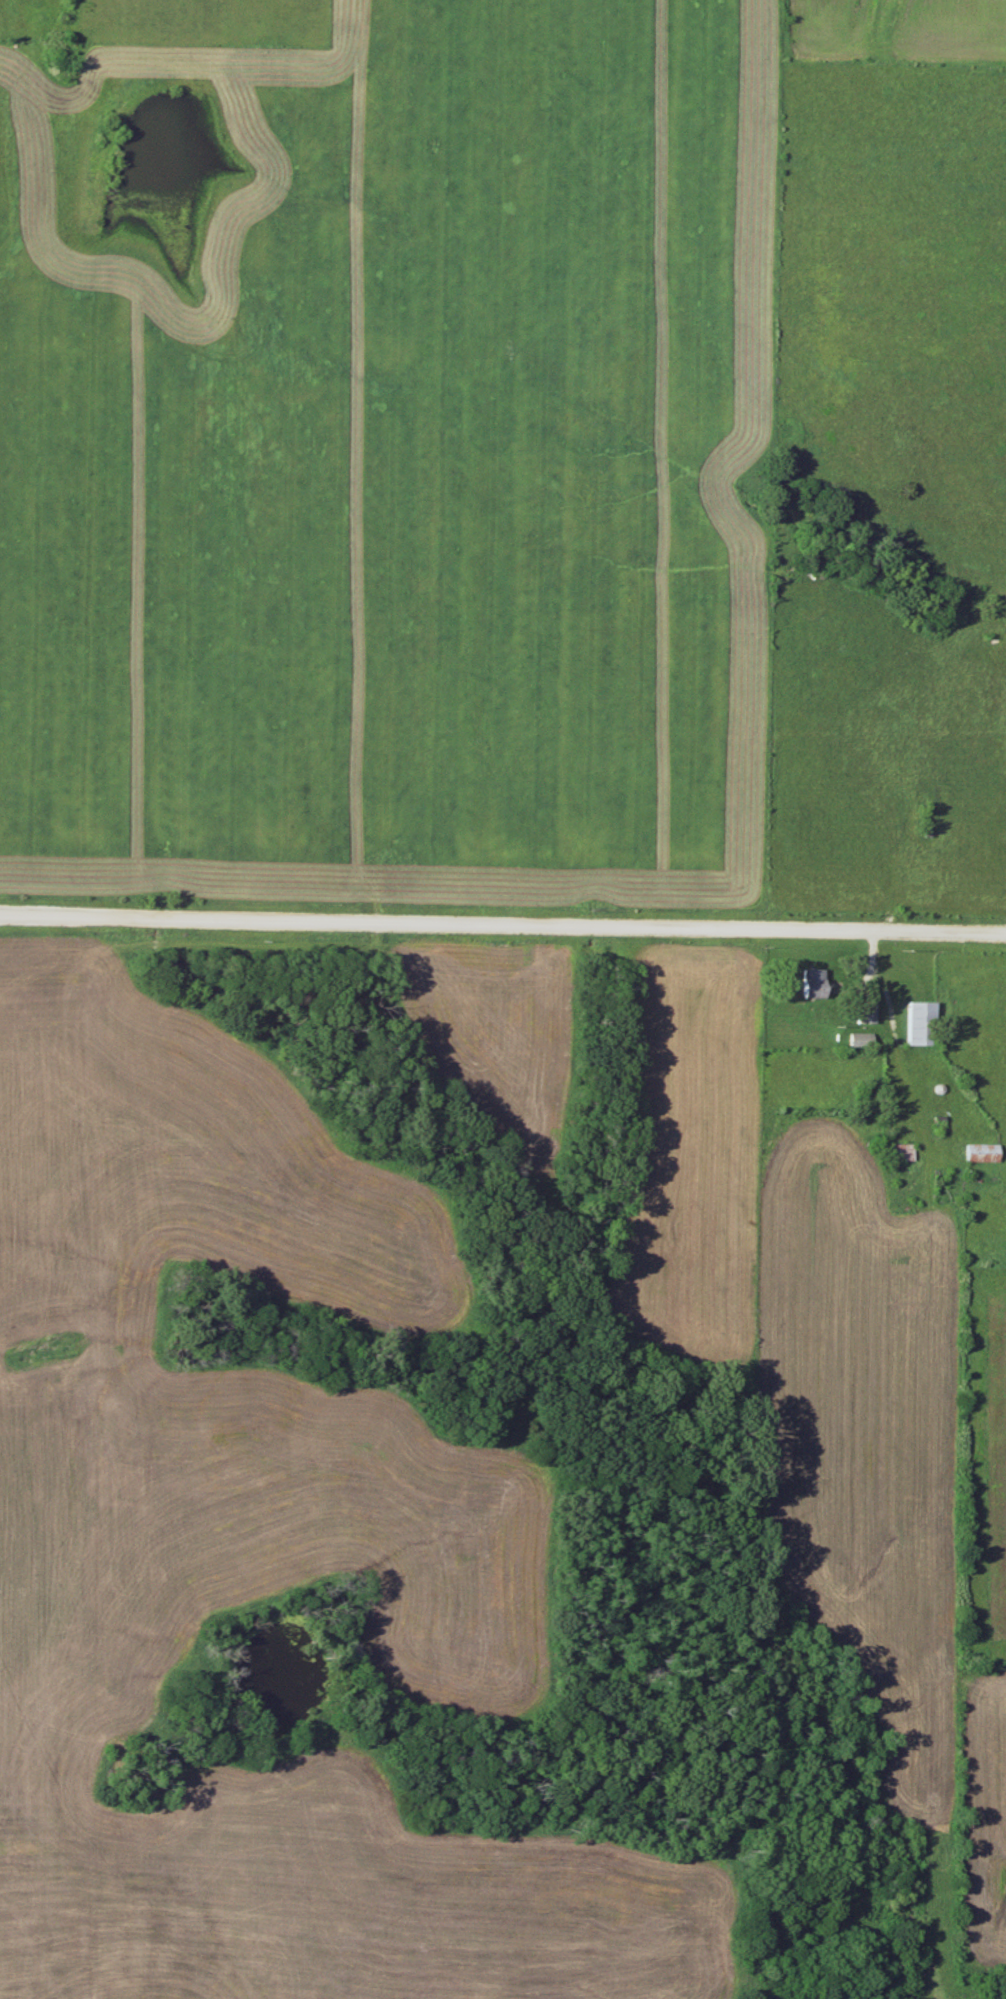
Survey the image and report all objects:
road: (503, 927)
building: (811, 983)
building: (864, 1012)
building: (920, 1023)
building: (860, 1041)
building: (901, 1152)
building: (982, 1153)
park: (138, 1772)

